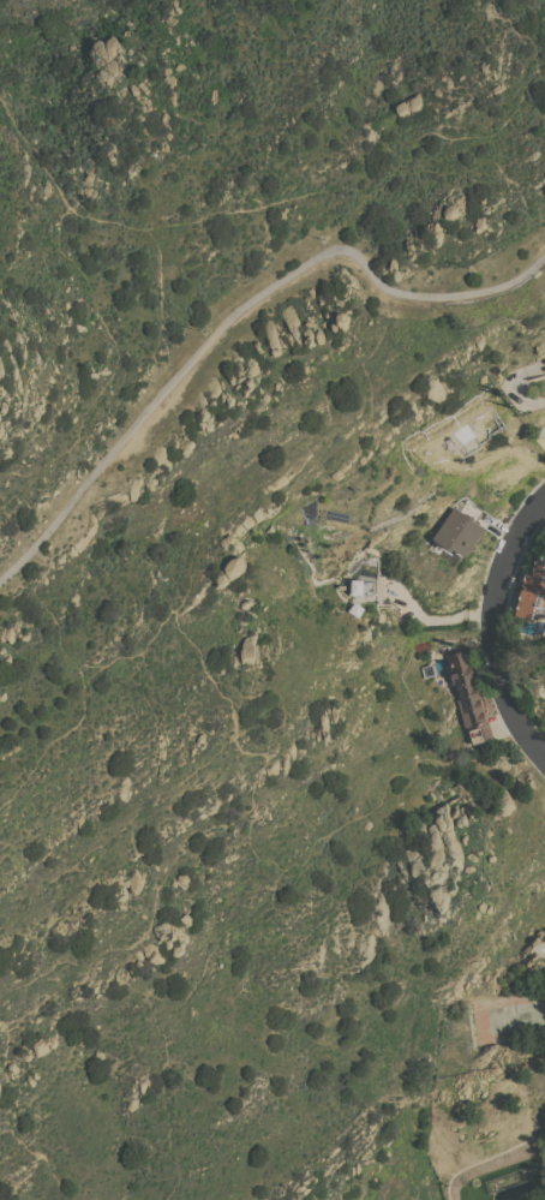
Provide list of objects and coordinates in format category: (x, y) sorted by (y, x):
road: (401, 160)
road: (55, 185)
road: (354, 221)
road: (497, 285)
road: (160, 306)
road: (197, 356)
road: (519, 389)
park: (238, 485)
building: (461, 529)
building: (355, 586)
building: (378, 586)
building: (532, 590)
road: (492, 628)
building: (426, 670)
park: (432, 671)
building: (468, 695)
park: (345, 1020)

